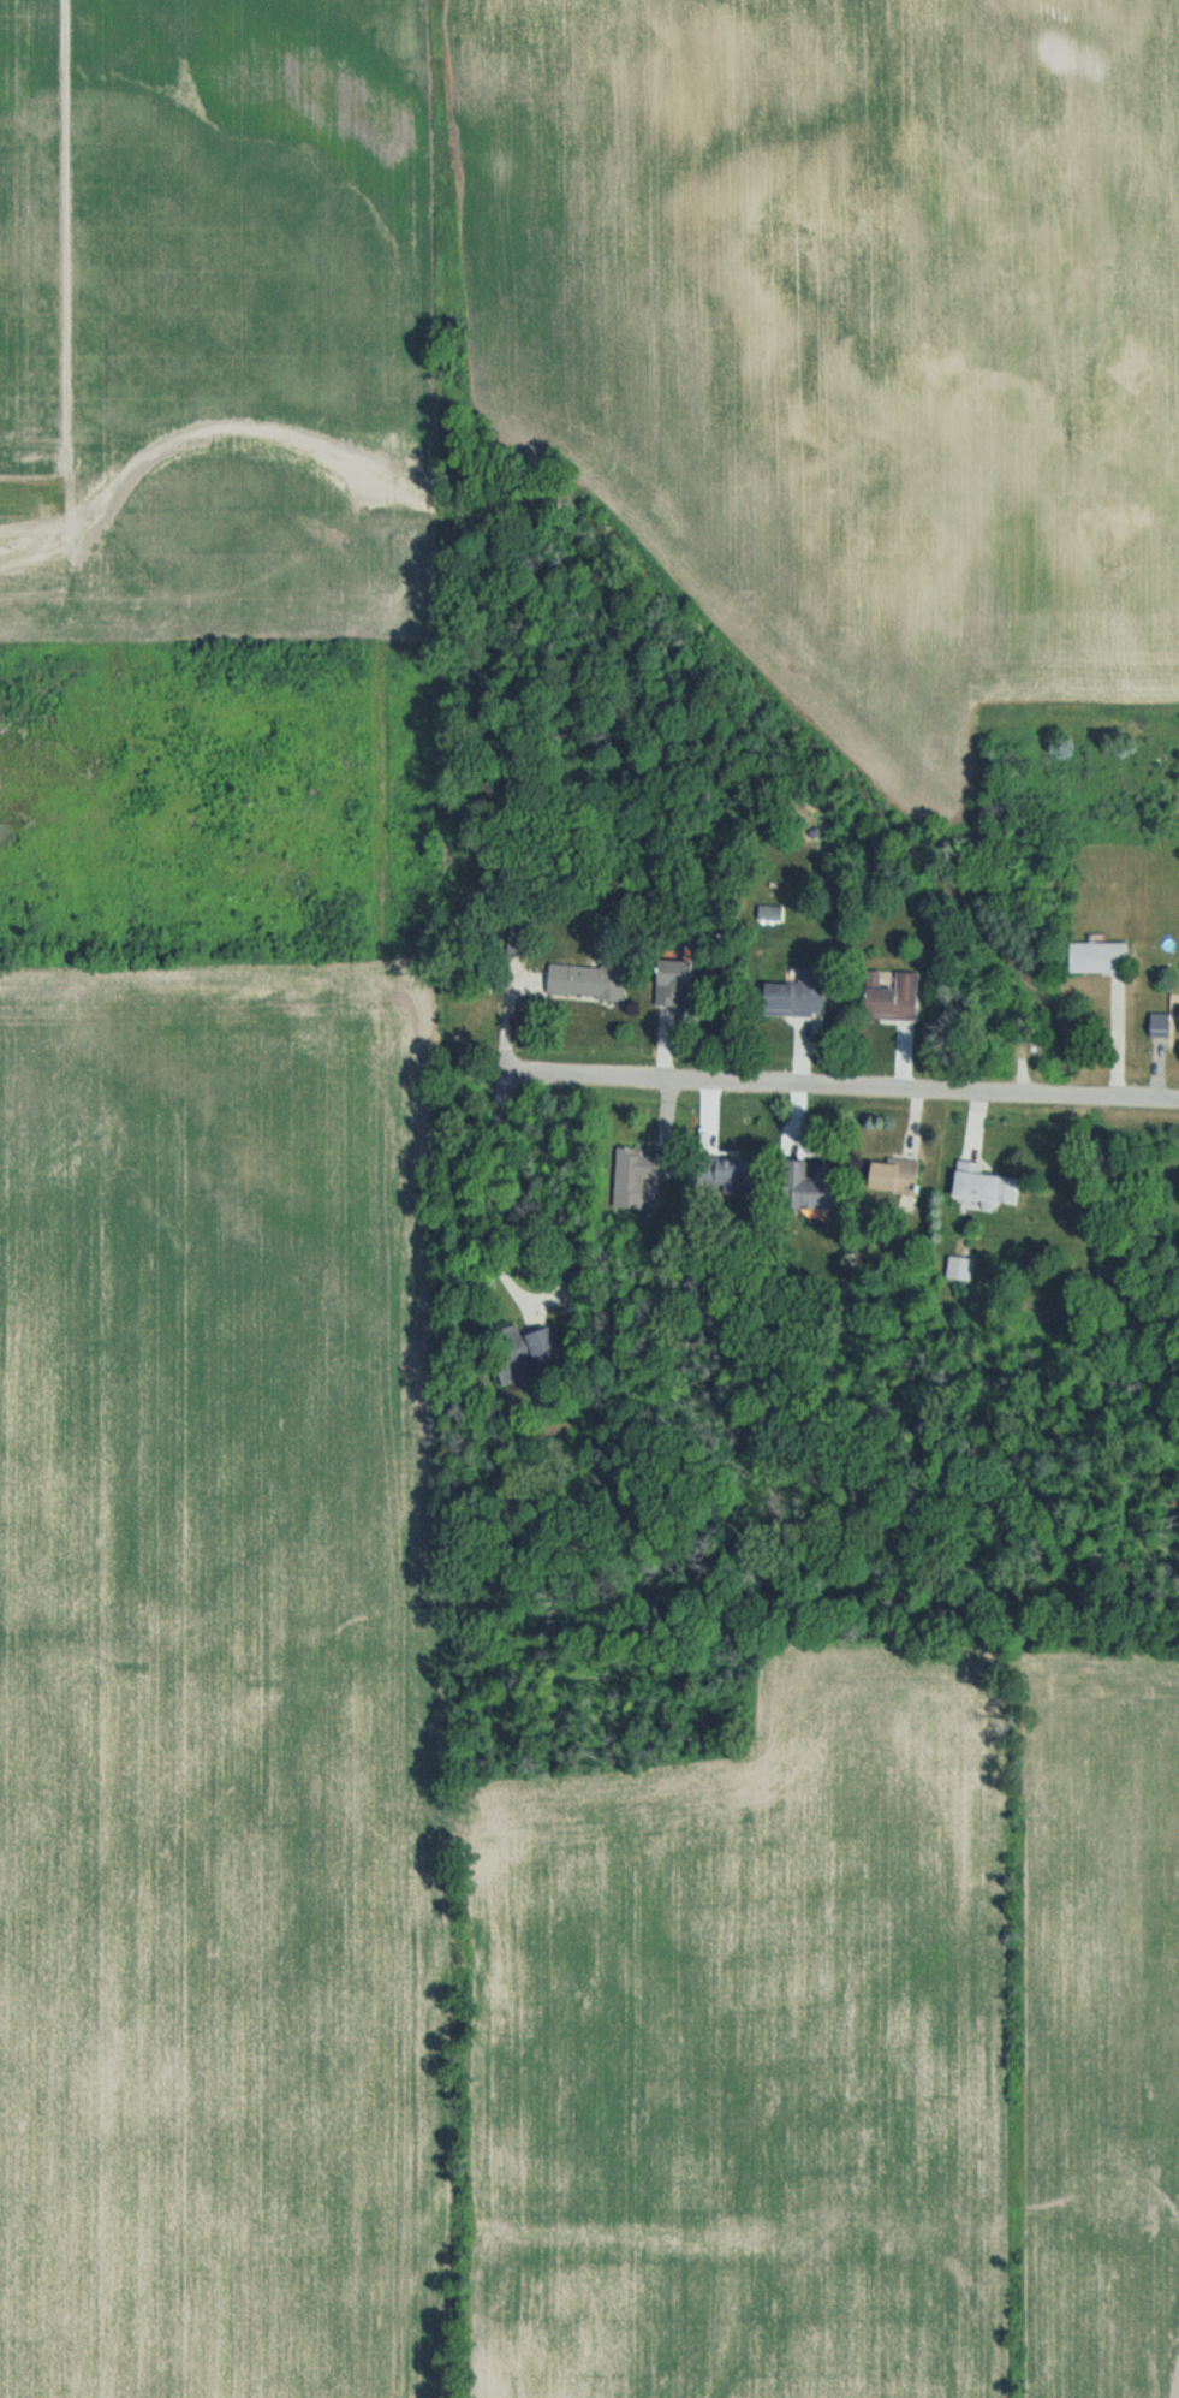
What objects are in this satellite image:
building: (773, 914)
building: (1100, 958)
building: (677, 978)
building: (588, 983)
building: (898, 998)
building: (802, 1014)
building: (1161, 1026)
road: (845, 1100)
building: (647, 1167)
building: (728, 1170)
building: (899, 1174)
building: (986, 1187)
building: (817, 1197)
crop: (212, 1284)
building: (547, 1346)

